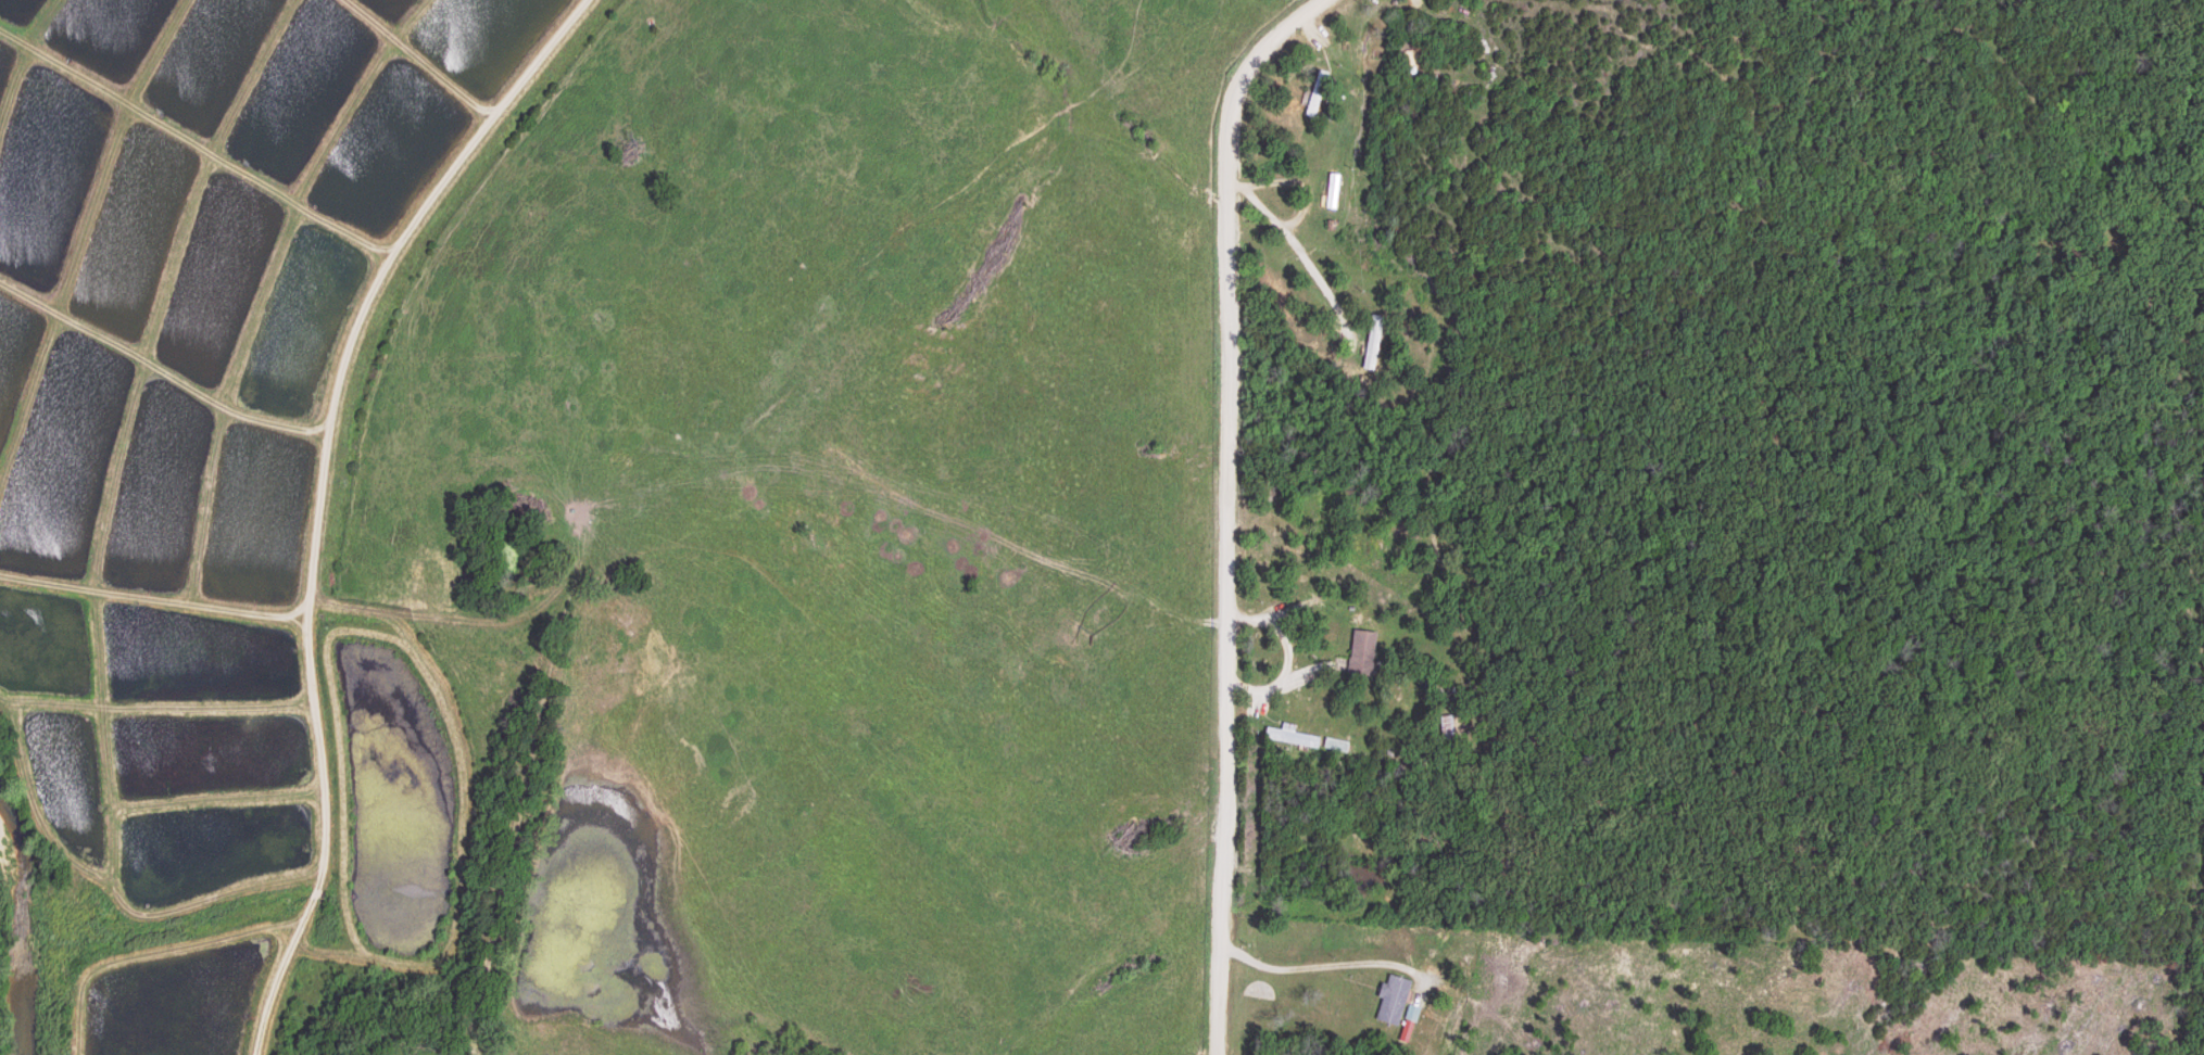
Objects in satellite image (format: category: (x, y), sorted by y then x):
building: (1373, 348)
road: (324, 494)
road: (1226, 506)
road: (483, 615)
building: (1365, 653)
building: (1293, 739)
road: (1321, 967)
building: (1397, 1001)
building: (1415, 1014)
building: (1409, 1034)

